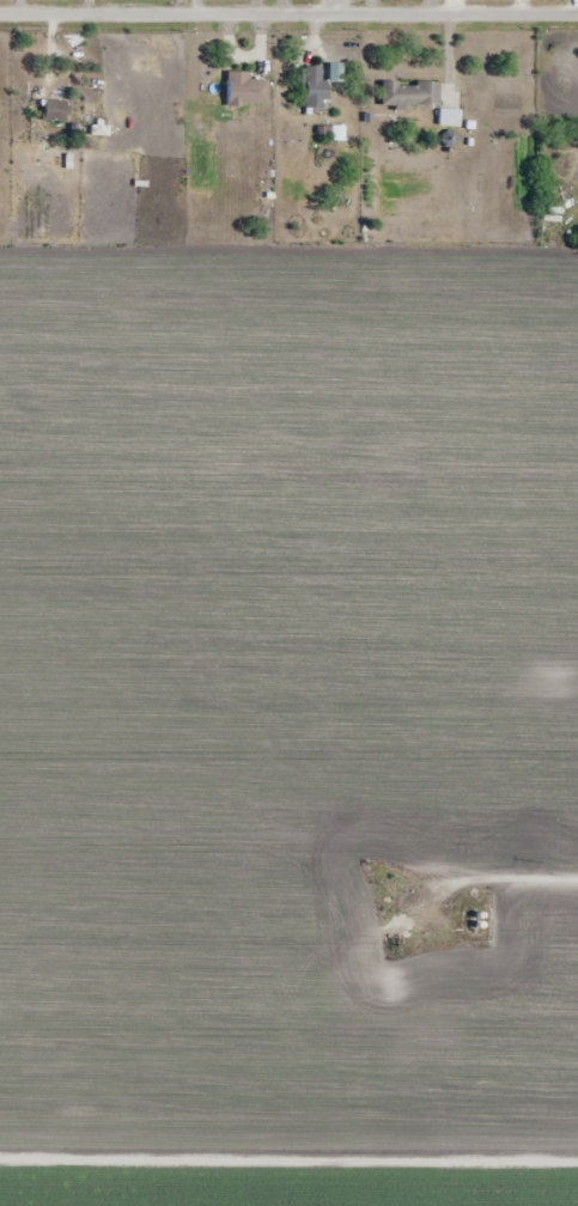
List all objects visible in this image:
road: (288, 17)
building: (315, 89)
building: (245, 90)
building: (409, 95)
building: (507, 102)
building: (54, 111)
building: (448, 117)
road: (288, 1158)

